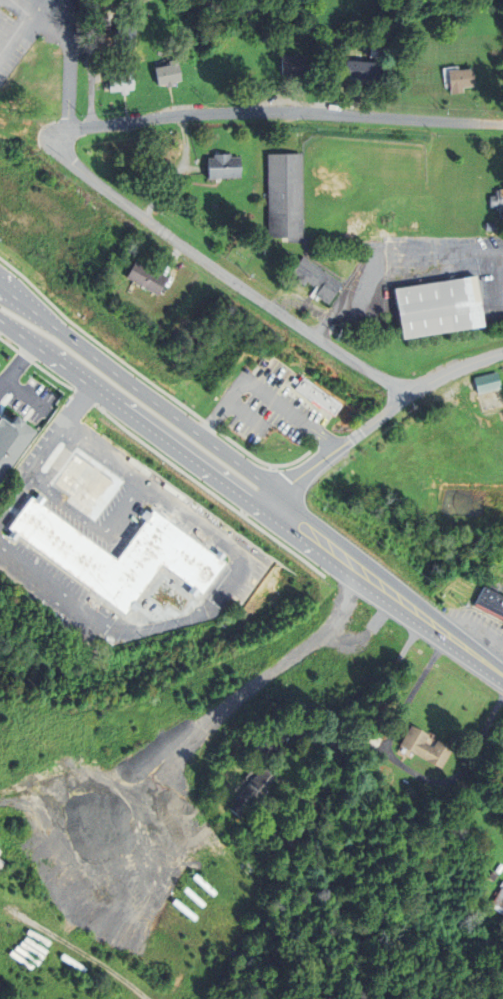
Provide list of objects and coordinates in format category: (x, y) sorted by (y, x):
road: (21, 28)
building: (126, 35)
road: (72, 45)
building: (293, 66)
building: (233, 67)
building: (363, 71)
building: (167, 73)
building: (458, 78)
building: (120, 81)
building: (47, 83)
road: (275, 113)
building: (224, 167)
building: (285, 194)
building: (497, 201)
road: (393, 256)
road: (228, 267)
building: (145, 279)
building: (316, 279)
building: (439, 307)
road: (16, 365)
building: (486, 383)
road: (261, 392)
road: (137, 394)
building: (317, 397)
road: (81, 404)
road: (378, 417)
road: (130, 418)
building: (13, 440)
building: (81, 481)
road: (102, 526)
building: (168, 551)
road: (384, 590)
building: (490, 602)
road: (366, 720)
building: (374, 741)
building: (502, 744)
building: (427, 746)
building: (252, 790)
building: (0, 850)
building: (0, 852)
building: (1, 863)
building: (493, 875)
building: (498, 901)

